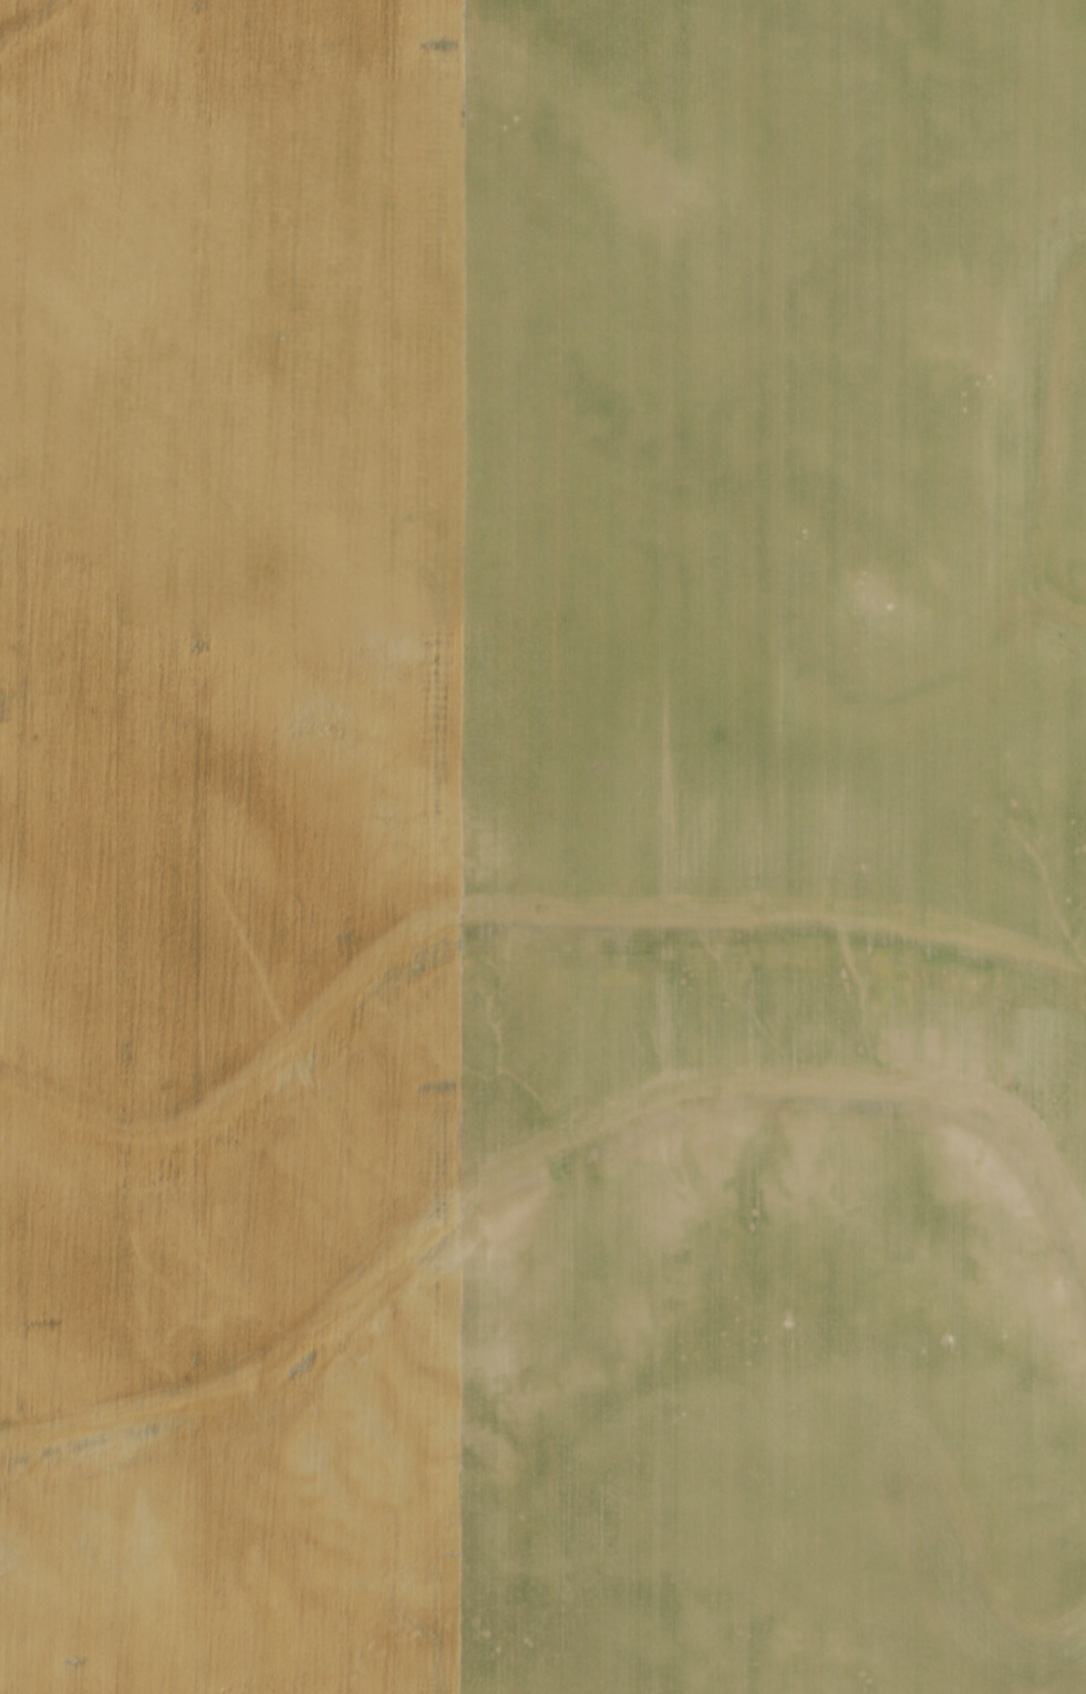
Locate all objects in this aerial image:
crop: (542, 846)

